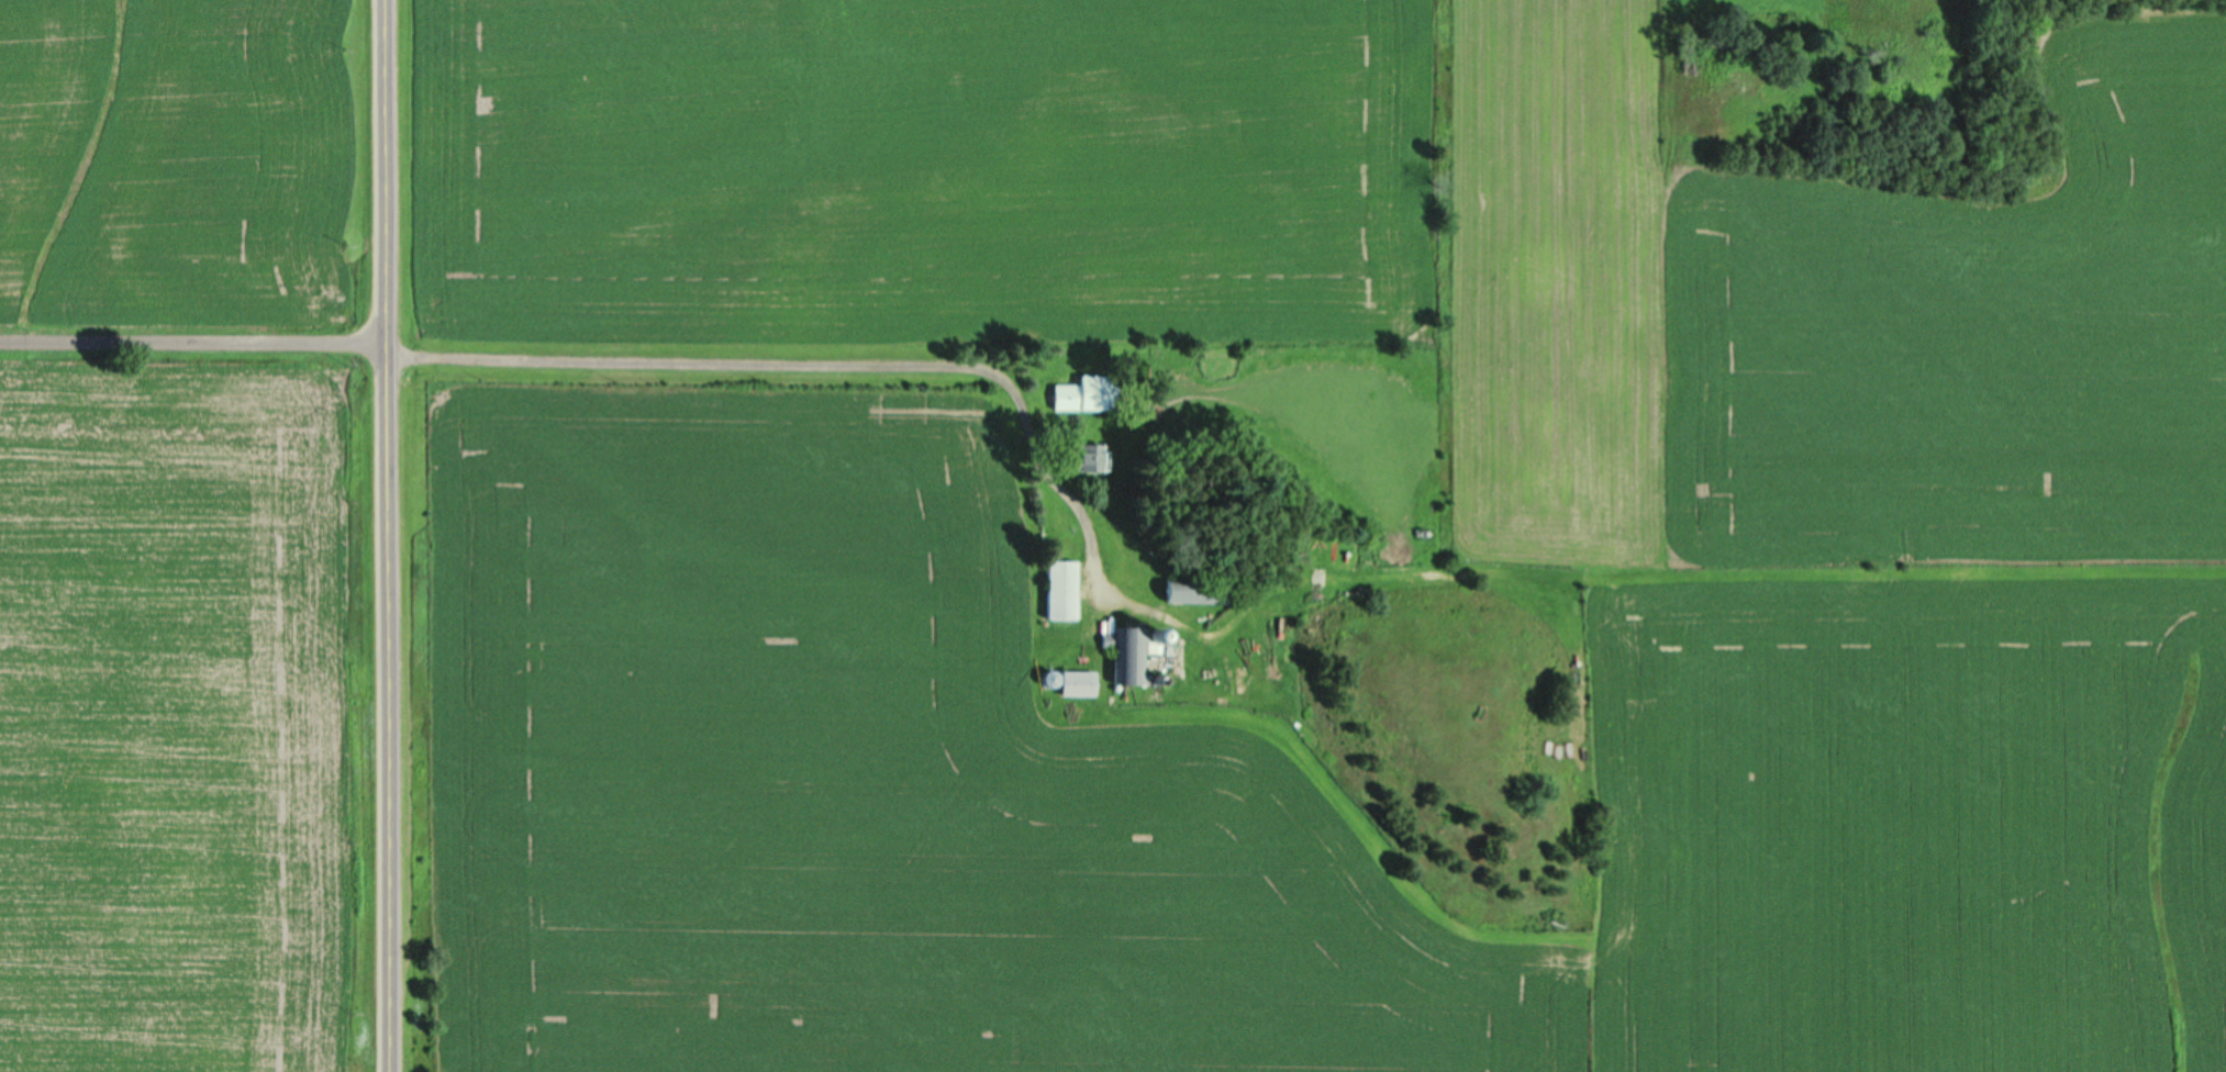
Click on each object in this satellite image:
road: (192, 342)
road: (821, 361)
building: (1083, 393)
building: (1089, 457)
road: (387, 536)
building: (1324, 551)
building: (1061, 589)
building: (1195, 592)
building: (1133, 654)
building: (1077, 683)

